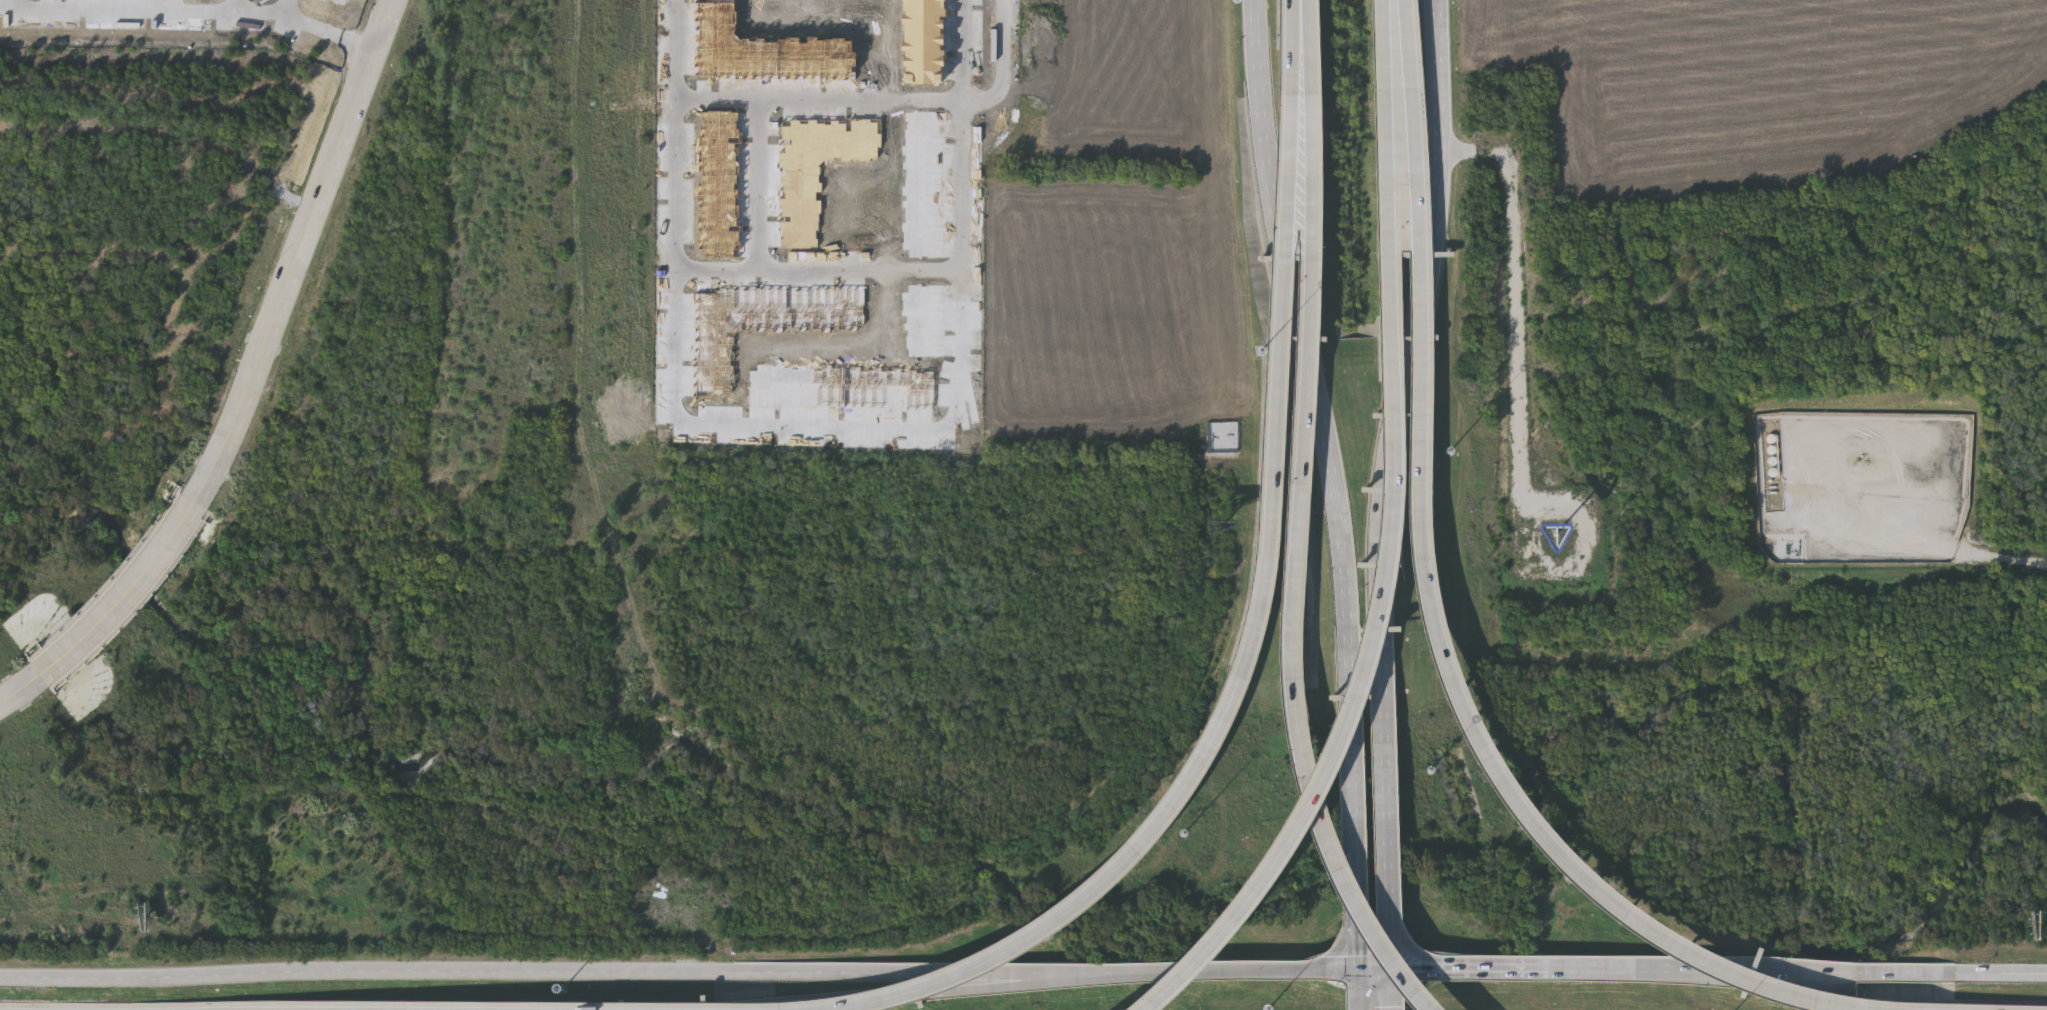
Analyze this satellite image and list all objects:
road: (239, 5)
road: (287, 6)
road: (196, 10)
road: (1386, 45)
road: (1403, 45)
road: (1288, 47)
road: (1305, 47)
road: (126, 75)
road: (883, 96)
road: (253, 105)
road: (290, 110)
road: (283, 127)
road: (330, 136)
road: (276, 161)
road: (1414, 172)
road: (1386, 173)
road: (758, 183)
road: (145, 243)
road: (298, 253)
road: (817, 269)
road: (204, 303)
road: (1300, 325)
road: (1421, 325)
road: (1518, 334)
road: (103, 411)
road: (817, 424)
road: (2003, 558)
road: (1295, 569)
road: (142, 585)
road: (1243, 655)
road: (1365, 667)
road: (38, 684)
road: (1481, 750)
road: (1354, 754)
road: (1392, 808)
road: (1357, 914)
road: (1459, 959)
road: (1659, 965)
road: (1454, 967)
traffic signals: (1358, 968)
traffic signals: (1393, 968)
road: (1261, 969)
road: (466, 971)
road: (1048, 971)
road: (1864, 971)
road: (2003, 973)
road: (1046, 981)
road: (1358, 989)
road: (1393, 989)
road: (824, 1001)

